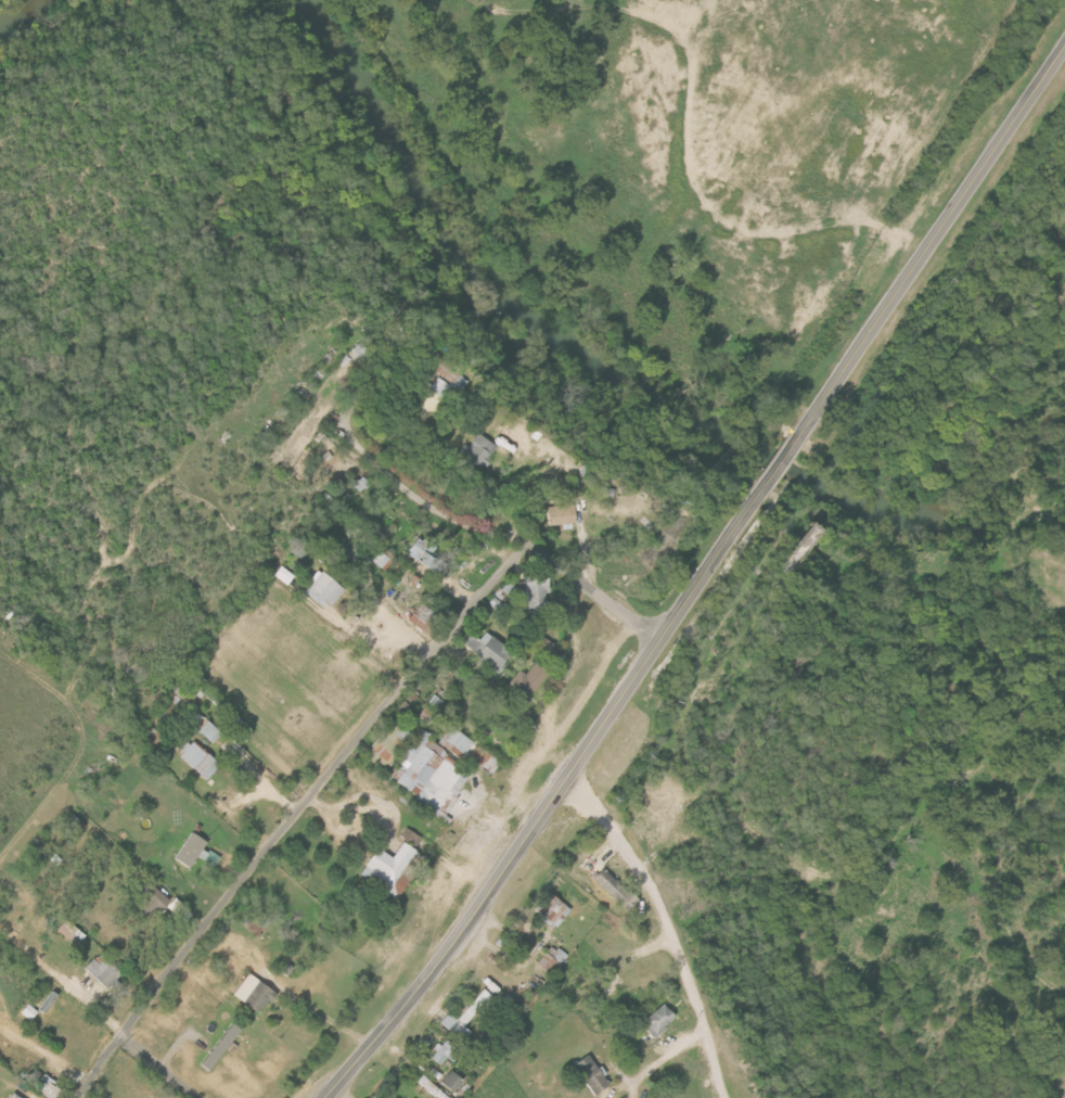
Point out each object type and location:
river: (20, 15)
road: (935, 244)
river: (629, 386)
building: (475, 451)
road: (779, 467)
road: (422, 502)
building: (557, 514)
building: (422, 558)
building: (380, 560)
building: (282, 575)
building: (319, 590)
road: (595, 591)
building: (534, 597)
road: (375, 636)
building: (541, 644)
building: (483, 649)
building: (527, 680)
building: (202, 726)
building: (401, 735)
building: (196, 761)
building: (483, 761)
building: (429, 776)
road: (319, 786)
road: (370, 796)
road: (551, 802)
building: (72, 827)
building: (408, 838)
building: (185, 851)
building: (205, 857)
building: (384, 867)
building: (611, 889)
building: (147, 899)
building: (551, 912)
road: (668, 927)
building: (72, 931)
building: (550, 959)
building: (104, 970)
road: (65, 980)
building: (487, 985)
building: (249, 994)
building: (527, 999)
building: (30, 1011)
road: (318, 1012)
building: (463, 1017)
building: (653, 1020)
building: (222, 1047)
road: (49, 1052)
building: (442, 1054)
road: (657, 1062)
road: (99, 1065)
road: (156, 1068)
building: (587, 1074)
building: (449, 1082)
building: (47, 1085)
building: (16, 1096)

